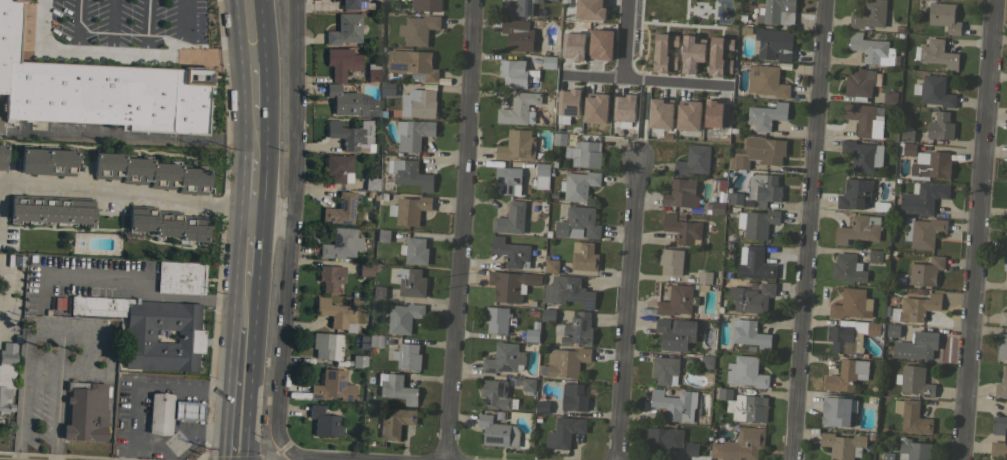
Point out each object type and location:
building: (353, 4)
building: (425, 5)
building: (518, 7)
building: (584, 11)
building: (778, 11)
building: (869, 14)
building: (944, 16)
road: (73, 25)
road: (250, 25)
building: (345, 29)
building: (418, 29)
building: (518, 34)
building: (773, 44)
building: (594, 46)
building: (566, 48)
building: (873, 49)
building: (687, 52)
road: (120, 53)
building: (936, 54)
building: (711, 56)
building: (341, 62)
building: (549, 62)
road: (619, 62)
building: (413, 64)
rooftop solar panel: (397, 65)
building: (374, 72)
building: (513, 72)
road: (254, 79)
road: (661, 81)
building: (766, 81)
building: (861, 83)
building: (388, 88)
building: (99, 89)
building: (934, 91)
building: (889, 97)
building: (351, 102)
building: (418, 103)
building: (577, 107)
building: (519, 108)
building: (620, 109)
building: (653, 115)
building: (766, 115)
building: (710, 116)
building: (682, 117)
building: (865, 119)
building: (940, 126)
road: (256, 132)
building: (413, 133)
road: (128, 134)
building: (352, 135)
building: (907, 135)
building: (559, 136)
building: (517, 145)
building: (907, 148)
building: (759, 152)
building: (584, 154)
building: (862, 155)
building: (2, 156)
building: (693, 160)
building: (47, 161)
building: (931, 165)
building: (337, 167)
building: (542, 169)
building: (150, 173)
building: (409, 173)
building: (508, 180)
building: (371, 183)
building: (578, 185)
road: (254, 186)
building: (719, 186)
building: (764, 188)
building: (680, 192)
building: (855, 194)
building: (1006, 195)
road: (147, 197)
building: (923, 197)
building: (734, 198)
rooftop solar panel: (340, 204)
building: (718, 207)
building: (51, 209)
building: (340, 209)
rooftop solar panel: (347, 209)
building: (409, 209)
building: (511, 218)
rooftop solar panel: (328, 219)
rooftop solar panel: (343, 221)
building: (167, 223)
building: (578, 223)
building: (759, 223)
road: (293, 225)
building: (682, 228)
building: (858, 229)
road: (460, 230)
road: (810, 230)
road: (979, 230)
building: (923, 231)
building: (382, 235)
building: (1005, 240)
road: (251, 244)
building: (341, 244)
building: (414, 250)
building: (511, 252)
building: (875, 255)
building: (584, 256)
building: (671, 261)
building: (754, 263)
building: (1005, 263)
building: (551, 265)
building: (847, 268)
building: (365, 269)
building: (926, 271)
road: (139, 274)
building: (180, 277)
building: (330, 277)
building: (704, 277)
building: (408, 281)
building: (507, 286)
road: (248, 288)
building: (378, 292)
building: (567, 292)
building: (751, 298)
building: (676, 300)
building: (852, 304)
building: (916, 307)
road: (628, 308)
building: (336, 314)
building: (548, 314)
road: (246, 315)
building: (403, 317)
building: (1003, 317)
building: (497, 319)
building: (873, 328)
building: (576, 329)
building: (150, 330)
building: (893, 330)
building: (677, 333)
road: (93, 334)
building: (750, 334)
building: (532, 335)
building: (844, 339)
building: (375, 340)
building: (329, 345)
building: (917, 345)
building: (1001, 345)
road: (58, 351)
rooftop solar panel: (401, 351)
building: (407, 356)
building: (505, 358)
road: (243, 359)
building: (358, 361)
building: (706, 361)
building: (565, 362)
rooftop solar panel: (505, 368)
building: (665, 369)
building: (746, 371)
building: (6, 374)
building: (847, 375)
building: (914, 380)
road: (150, 384)
building: (528, 384)
building: (1002, 385)
building: (333, 386)
building: (396, 388)
building: (496, 394)
building: (573, 397)
building: (675, 404)
building: (744, 405)
building: (542, 406)
building: (837, 410)
building: (85, 411)
building: (187, 411)
gas station: (159, 413)
building: (158, 414)
road: (240, 415)
building: (912, 416)
building: (324, 422)
building: (394, 422)
building: (999, 425)
building: (498, 432)
building: (564, 432)
road: (164, 437)
building: (664, 439)
road: (206, 440)
building: (740, 445)
building: (843, 445)
building: (691, 449)
building: (913, 449)
building: (999, 449)
road: (238, 451)
building: (888, 456)
road: (298, 457)

